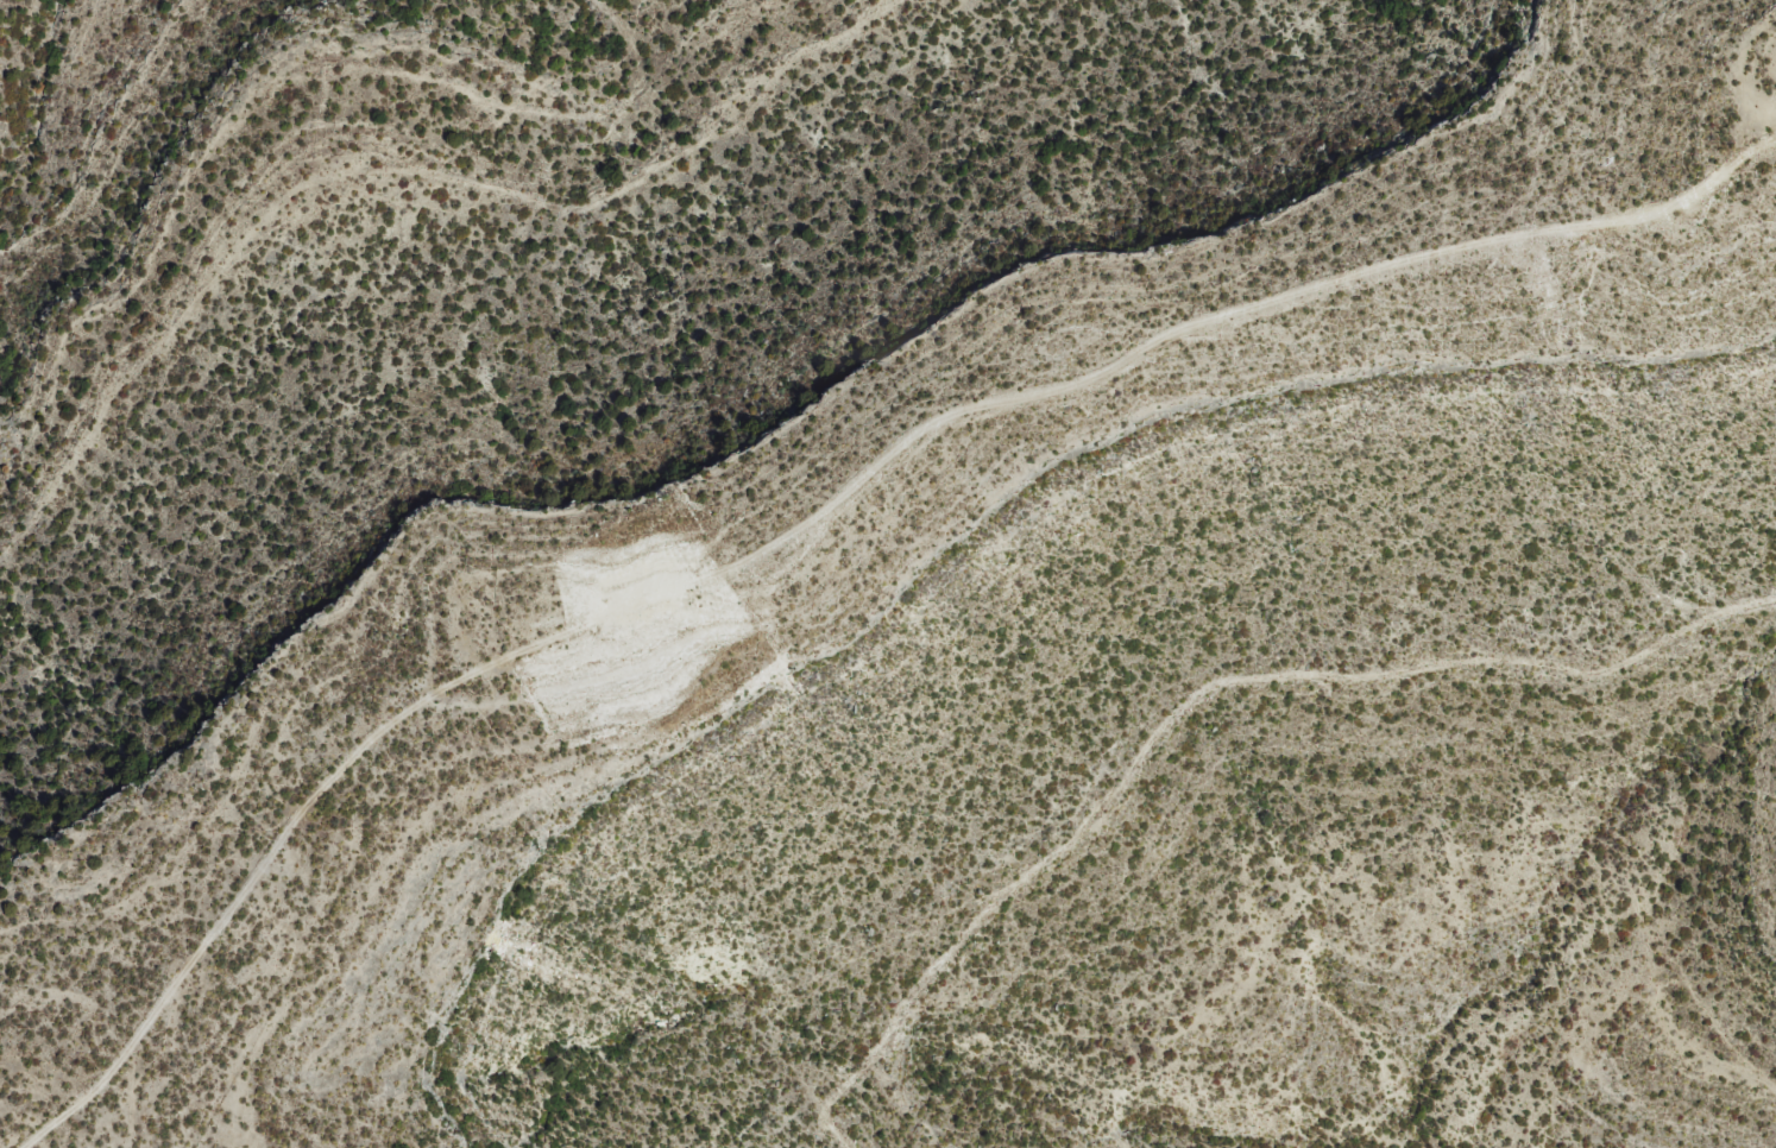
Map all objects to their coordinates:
road: (823, 545)

